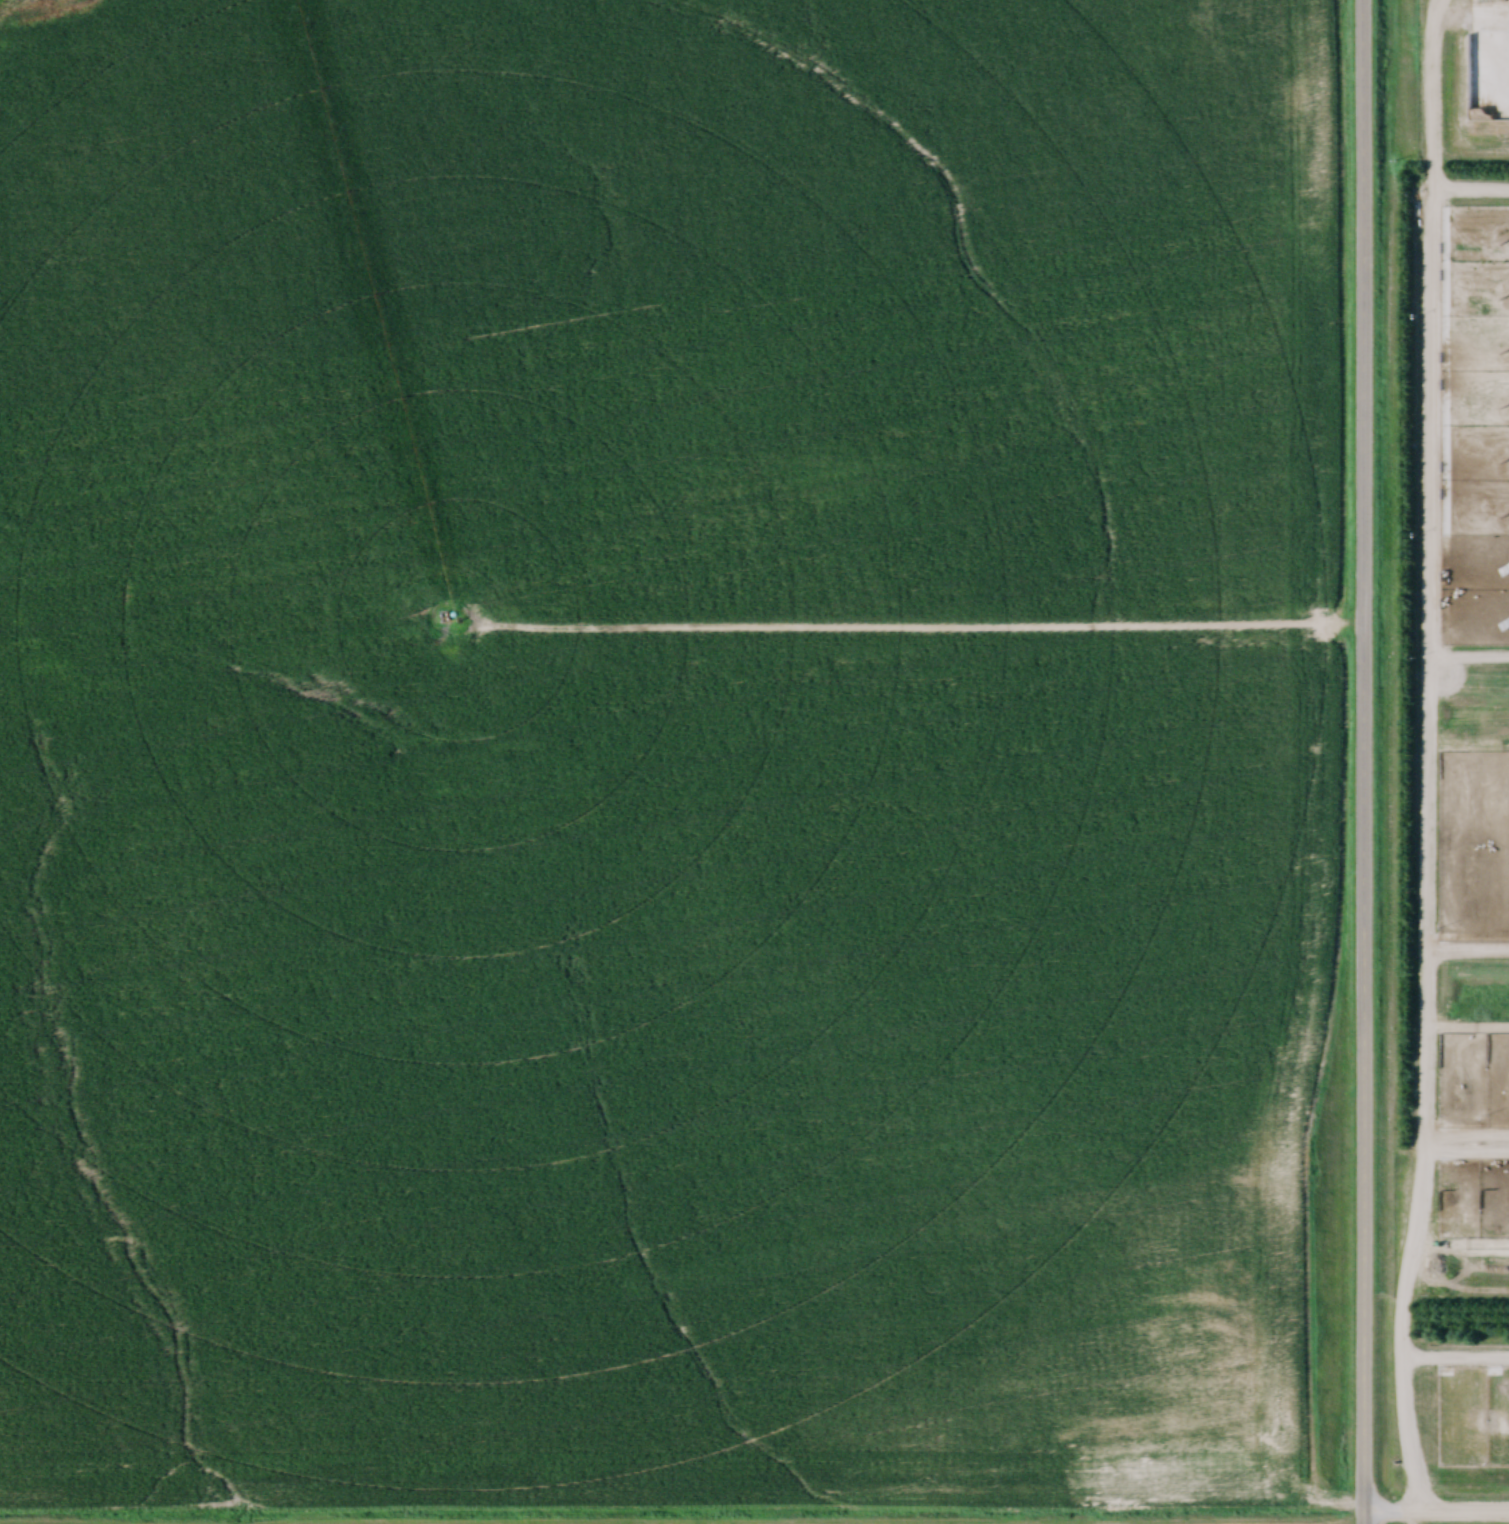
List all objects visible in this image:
road: (1365, 762)
road: (1438, 1509)

